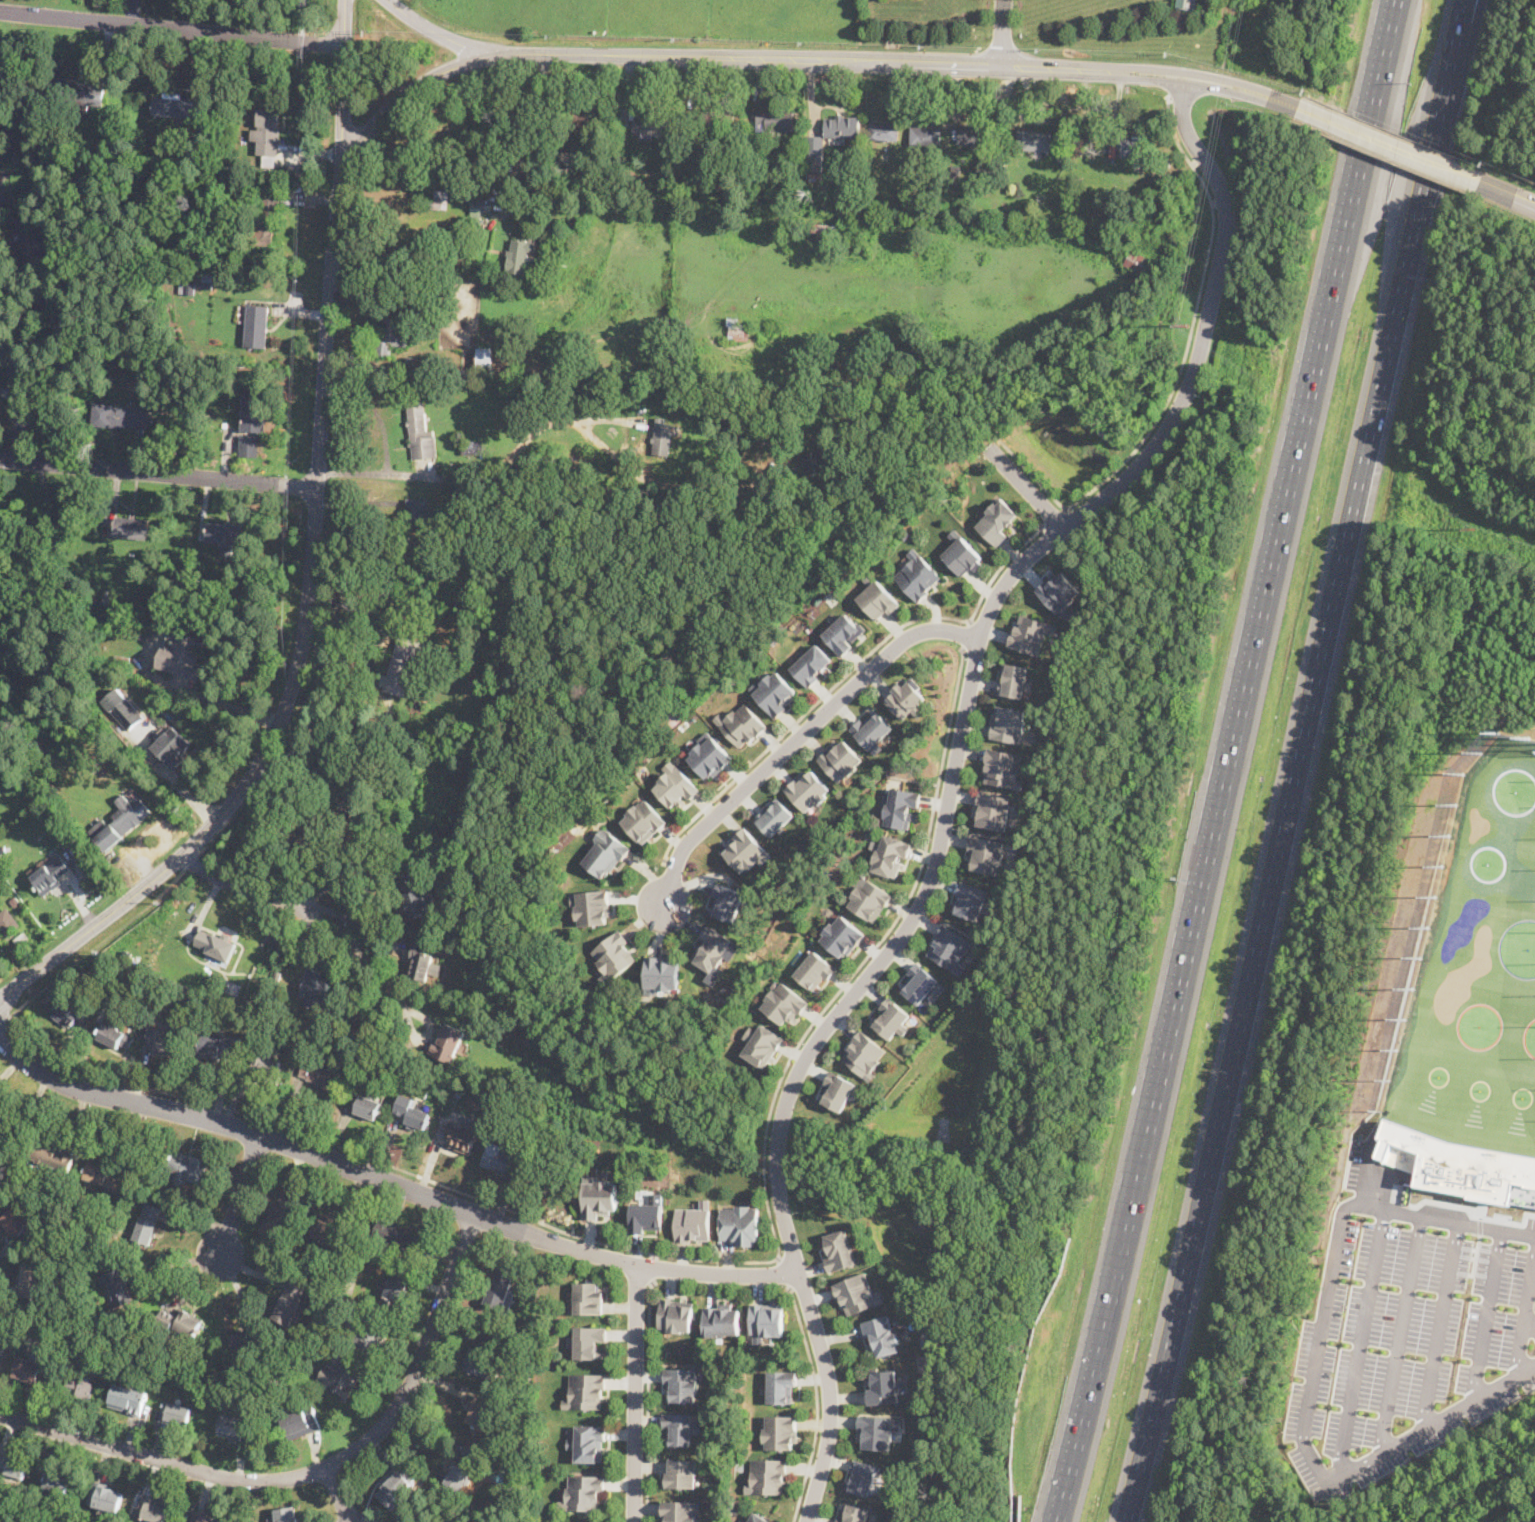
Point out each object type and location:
road: (1392, 19)
road: (1394, 19)
road: (343, 23)
road: (170, 29)
road: (1001, 32)
road: (438, 33)
road: (1460, 34)
road: (707, 55)
road: (1186, 71)
road: (1184, 84)
building: (77, 94)
road: (1174, 97)
road: (1274, 98)
building: (182, 109)
road: (342, 110)
building: (585, 118)
building: (775, 120)
building: (714, 122)
building: (654, 125)
building: (843, 128)
building: (884, 132)
road: (526, 133)
building: (973, 135)
building: (268, 136)
building: (927, 136)
building: (1034, 140)
road: (1388, 144)
building: (1131, 147)
building: (1113, 153)
building: (791, 155)
building: (1061, 155)
building: (814, 158)
building: (233, 163)
building: (1165, 163)
building: (1001, 166)
building: (955, 170)
building: (296, 189)
road: (1507, 192)
building: (2, 198)
building: (1122, 198)
building: (439, 204)
building: (476, 212)
building: (268, 213)
building: (820, 230)
building: (556, 241)
building: (43, 244)
building: (519, 256)
building: (1137, 262)
building: (206, 281)
building: (396, 282)
building: (405, 282)
building: (438, 286)
building: (190, 287)
building: (55, 307)
building: (256, 326)
power tower: (1182, 326)
building: (738, 330)
building: (391, 335)
building: (483, 362)
building: (418, 366)
road: (1182, 366)
road: (15, 398)
building: (119, 416)
building: (250, 425)
building: (419, 433)
building: (663, 437)
building: (774, 437)
building: (473, 447)
road: (8, 457)
building: (817, 462)
building: (584, 464)
road: (166, 474)
road: (459, 479)
road: (1029, 493)
building: (467, 500)
building: (418, 513)
road: (1055, 518)
building: (997, 521)
building: (131, 528)
power tower: (1473, 530)
building: (223, 534)
building: (905, 535)
building: (43, 550)
building: (962, 553)
building: (918, 575)
building: (211, 587)
building: (1058, 593)
building: (876, 597)
building: (105, 601)
building: (155, 608)
building: (844, 633)
road: (967, 634)
building: (1030, 634)
building: (774, 640)
road: (300, 647)
building: (5, 648)
building: (182, 656)
building: (404, 658)
building: (752, 658)
building: (122, 660)
building: (452, 664)
building: (812, 664)
building: (441, 674)
road: (846, 675)
building: (1014, 680)
building: (413, 690)
building: (775, 693)
building: (906, 698)
road: (222, 703)
building: (124, 709)
building: (389, 711)
building: (741, 724)
building: (1008, 724)
building: (503, 727)
building: (872, 730)
road: (792, 740)
building: (544, 742)
building: (172, 747)
building: (710, 755)
building: (840, 760)
road: (1298, 761)
building: (1004, 768)
building: (86, 771)
road: (1222, 780)
road: (949, 783)
building: (675, 785)
building: (809, 789)
building: (899, 806)
building: (344, 810)
building: (993, 811)
building: (130, 813)
building: (74, 814)
building: (774, 817)
building: (643, 820)
building: (370, 823)
building: (301, 826)
building: (747, 850)
building: (606, 852)
building: (986, 853)
building: (891, 854)
building: (50, 874)
road: (349, 877)
building: (1028, 878)
building: (868, 897)
building: (415, 898)
building: (970, 899)
building: (726, 901)
road: (288, 902)
building: (592, 906)
building: (7, 921)
building: (842, 936)
building: (215, 947)
building: (712, 948)
building: (950, 948)
building: (614, 956)
building: (421, 962)
road: (367, 963)
park: (1477, 967)
building: (815, 970)
building: (277, 975)
building: (661, 975)
building: (921, 983)
building: (315, 989)
building: (114, 994)
building: (784, 1003)
building: (66, 1014)
building: (892, 1019)
building: (274, 1026)
building: (114, 1035)
building: (162, 1041)
building: (448, 1043)
building: (761, 1044)
building: (219, 1047)
building: (865, 1055)
building: (265, 1066)
building: (320, 1075)
building: (839, 1091)
building: (473, 1098)
building: (368, 1108)
building: (410, 1113)
building: (5, 1132)
building: (459, 1137)
building: (50, 1154)
building: (503, 1160)
building: (1455, 1163)
building: (189, 1165)
building: (105, 1177)
road: (386, 1183)
building: (59, 1191)
road: (239, 1195)
building: (599, 1196)
building: (280, 1214)
building: (647, 1214)
road: (1474, 1215)
building: (694, 1222)
building: (17, 1224)
building: (147, 1224)
building: (740, 1224)
building: (327, 1228)
building: (396, 1236)
building: (340, 1248)
building: (839, 1250)
building: (352, 1253)
road: (701, 1261)
road: (171, 1266)
road: (652, 1270)
road: (785, 1271)
building: (37, 1280)
building: (321, 1286)
building: (396, 1287)
building: (116, 1288)
building: (499, 1288)
building: (857, 1293)
building: (589, 1296)
building: (289, 1304)
building: (333, 1311)
building: (675, 1315)
road: (1487, 1315)
building: (767, 1319)
building: (165, 1320)
building: (722, 1320)
road: (1525, 1320)
building: (188, 1324)
road: (1441, 1325)
road: (1530, 1325)
parking lot: (1406, 1333)
road: (1401, 1334)
building: (881, 1335)
building: (367, 1338)
building: (587, 1341)
road: (1360, 1342)
building: (242, 1343)
building: (517, 1349)
building: (278, 1350)
building: (0, 1355)
building: (478, 1359)
road: (1313, 1370)
building: (167, 1372)
building: (39, 1375)
building: (338, 1380)
building: (256, 1381)
building: (682, 1384)
building: (881, 1385)
building: (781, 1386)
building: (270, 1388)
building: (585, 1391)
building: (78, 1392)
road: (635, 1394)
building: (126, 1400)
road: (649, 1401)
road: (817, 1405)
building: (175, 1416)
building: (480, 1417)
building: (300, 1423)
building: (680, 1427)
building: (236, 1428)
building: (781, 1431)
building: (878, 1431)
building: (588, 1442)
building: (518, 1462)
building: (13, 1466)
building: (463, 1470)
building: (681, 1473)
road: (309, 1474)
building: (769, 1475)
building: (862, 1477)
building: (63, 1483)
building: (397, 1485)
building: (584, 1494)
road: (338, 1496)
building: (104, 1498)
building: (134, 1508)
building: (152, 1510)
building: (680, 1511)
building: (854, 1513)
building: (286, 1515)
building: (207, 1517)
building: (758, 1518)
building: (742, 1520)

